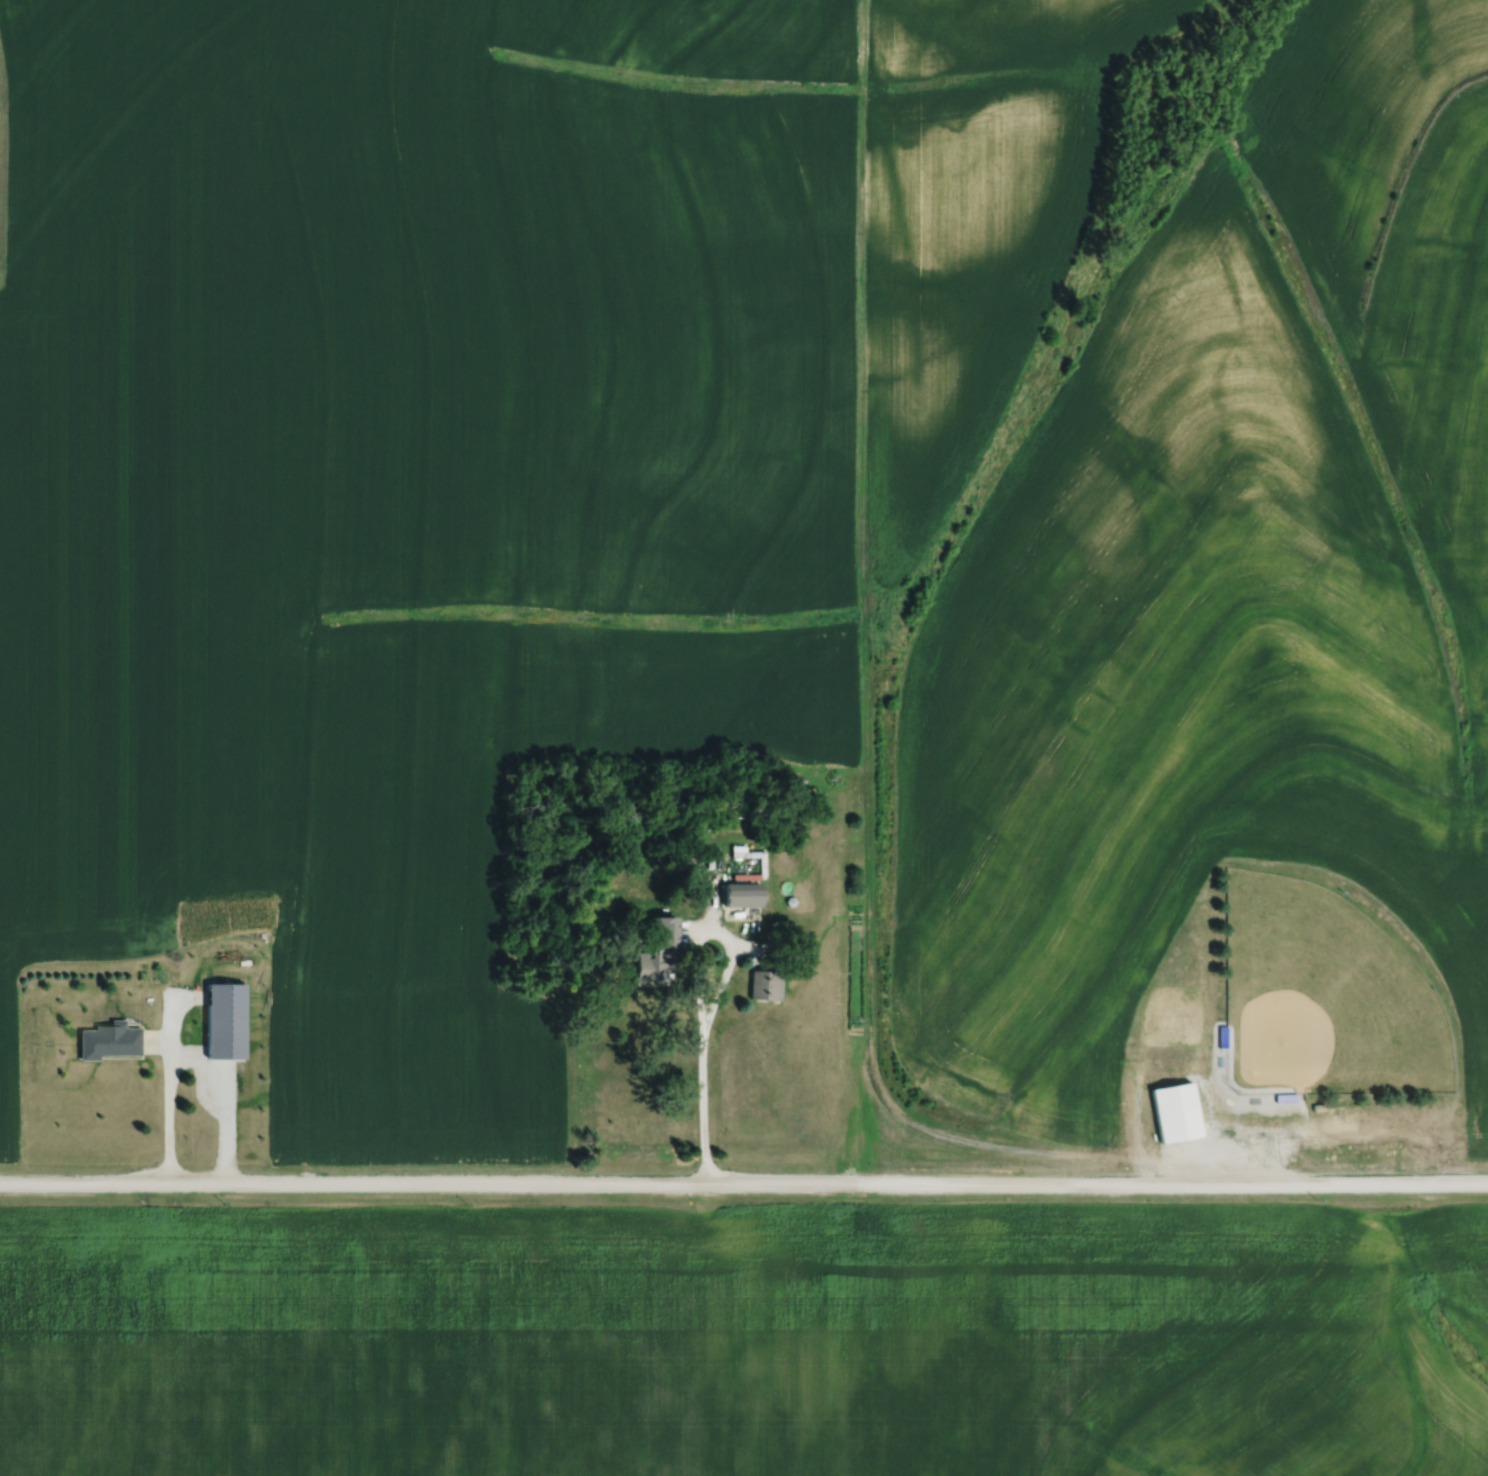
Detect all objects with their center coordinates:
crop: (1221, 590)
building: (694, 872)
building: (742, 894)
building: (784, 901)
building: (665, 932)
road: (729, 937)
building: (653, 964)
building: (766, 985)
park: (1323, 994)
building: (225, 1035)
building: (1222, 1035)
building: (108, 1038)
road: (187, 1058)
building: (1220, 1059)
building: (1285, 1096)
road: (701, 1097)
building: (1252, 1099)
building: (1318, 1105)
building: (1174, 1109)
road: (743, 1178)
crop: (434, 1332)

